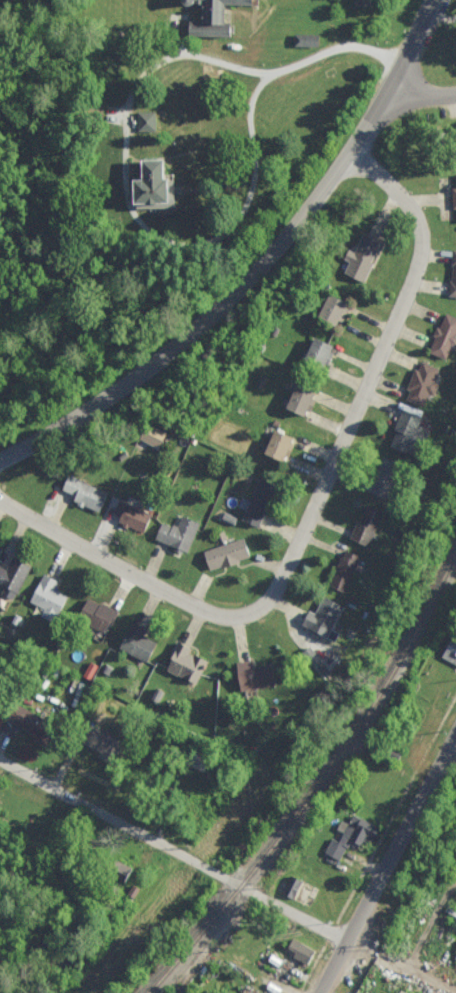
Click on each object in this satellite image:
building: (361, 1)
building: (207, 17)
building: (302, 39)
road: (219, 57)
road: (420, 96)
building: (143, 121)
building: (455, 124)
building: (147, 185)
building: (453, 195)
building: (358, 257)
road: (254, 270)
building: (451, 273)
building: (329, 309)
building: (442, 335)
building: (316, 351)
building: (419, 383)
building: (296, 399)
building: (404, 432)
building: (149, 435)
building: (275, 445)
building: (380, 477)
building: (81, 493)
building: (255, 502)
road: (319, 514)
building: (128, 516)
building: (363, 525)
building: (174, 533)
building: (223, 554)
building: (341, 571)
building: (10, 578)
building: (44, 598)
building: (93, 614)
building: (320, 618)
building: (133, 642)
building: (449, 651)
building: (312, 661)
building: (182, 663)
building: (250, 675)
building: (27, 722)
building: (97, 741)
road: (451, 750)
railway: (318, 783)
building: (348, 836)
road: (171, 849)
road: (385, 861)
building: (115, 871)
building: (288, 887)
road: (427, 923)
building: (296, 950)
building: (454, 955)
road: (399, 966)
building: (244, 992)
building: (395, 992)

